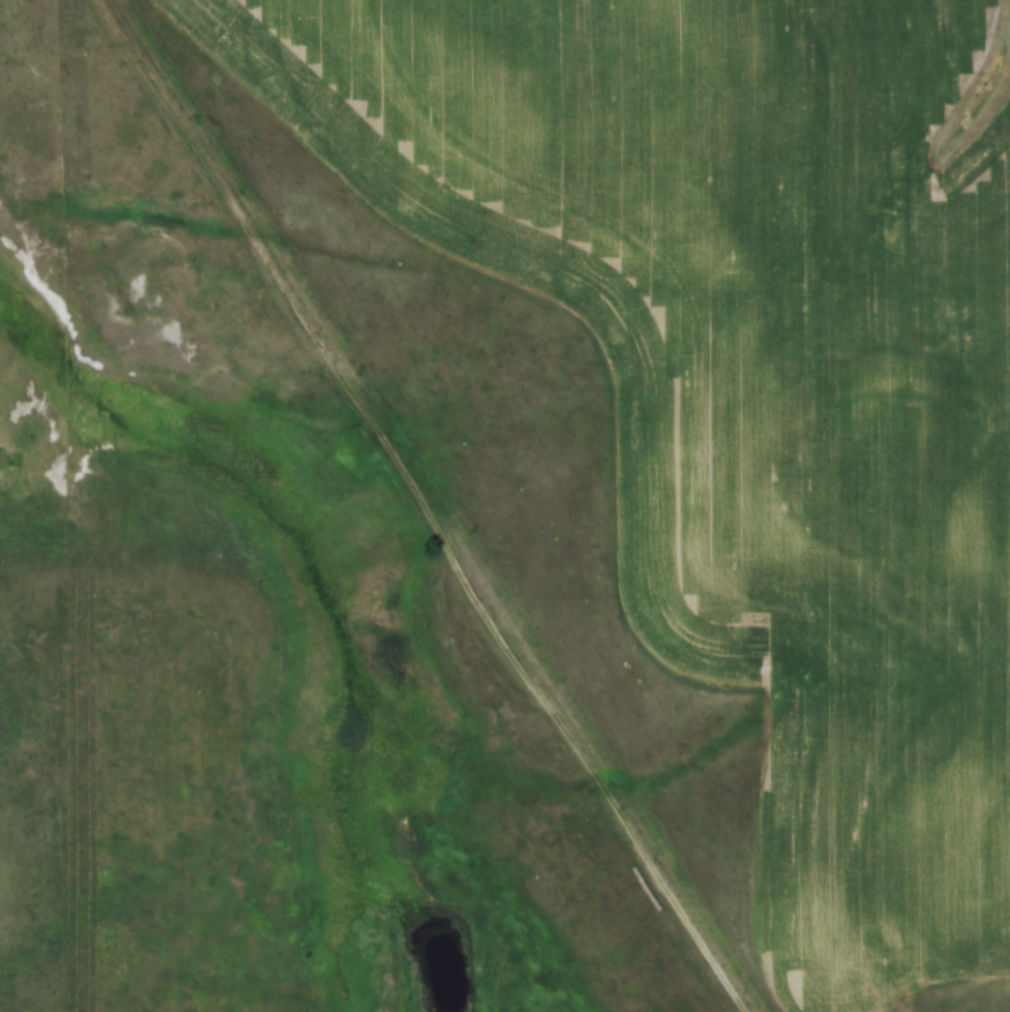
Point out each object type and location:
road: (430, 502)

